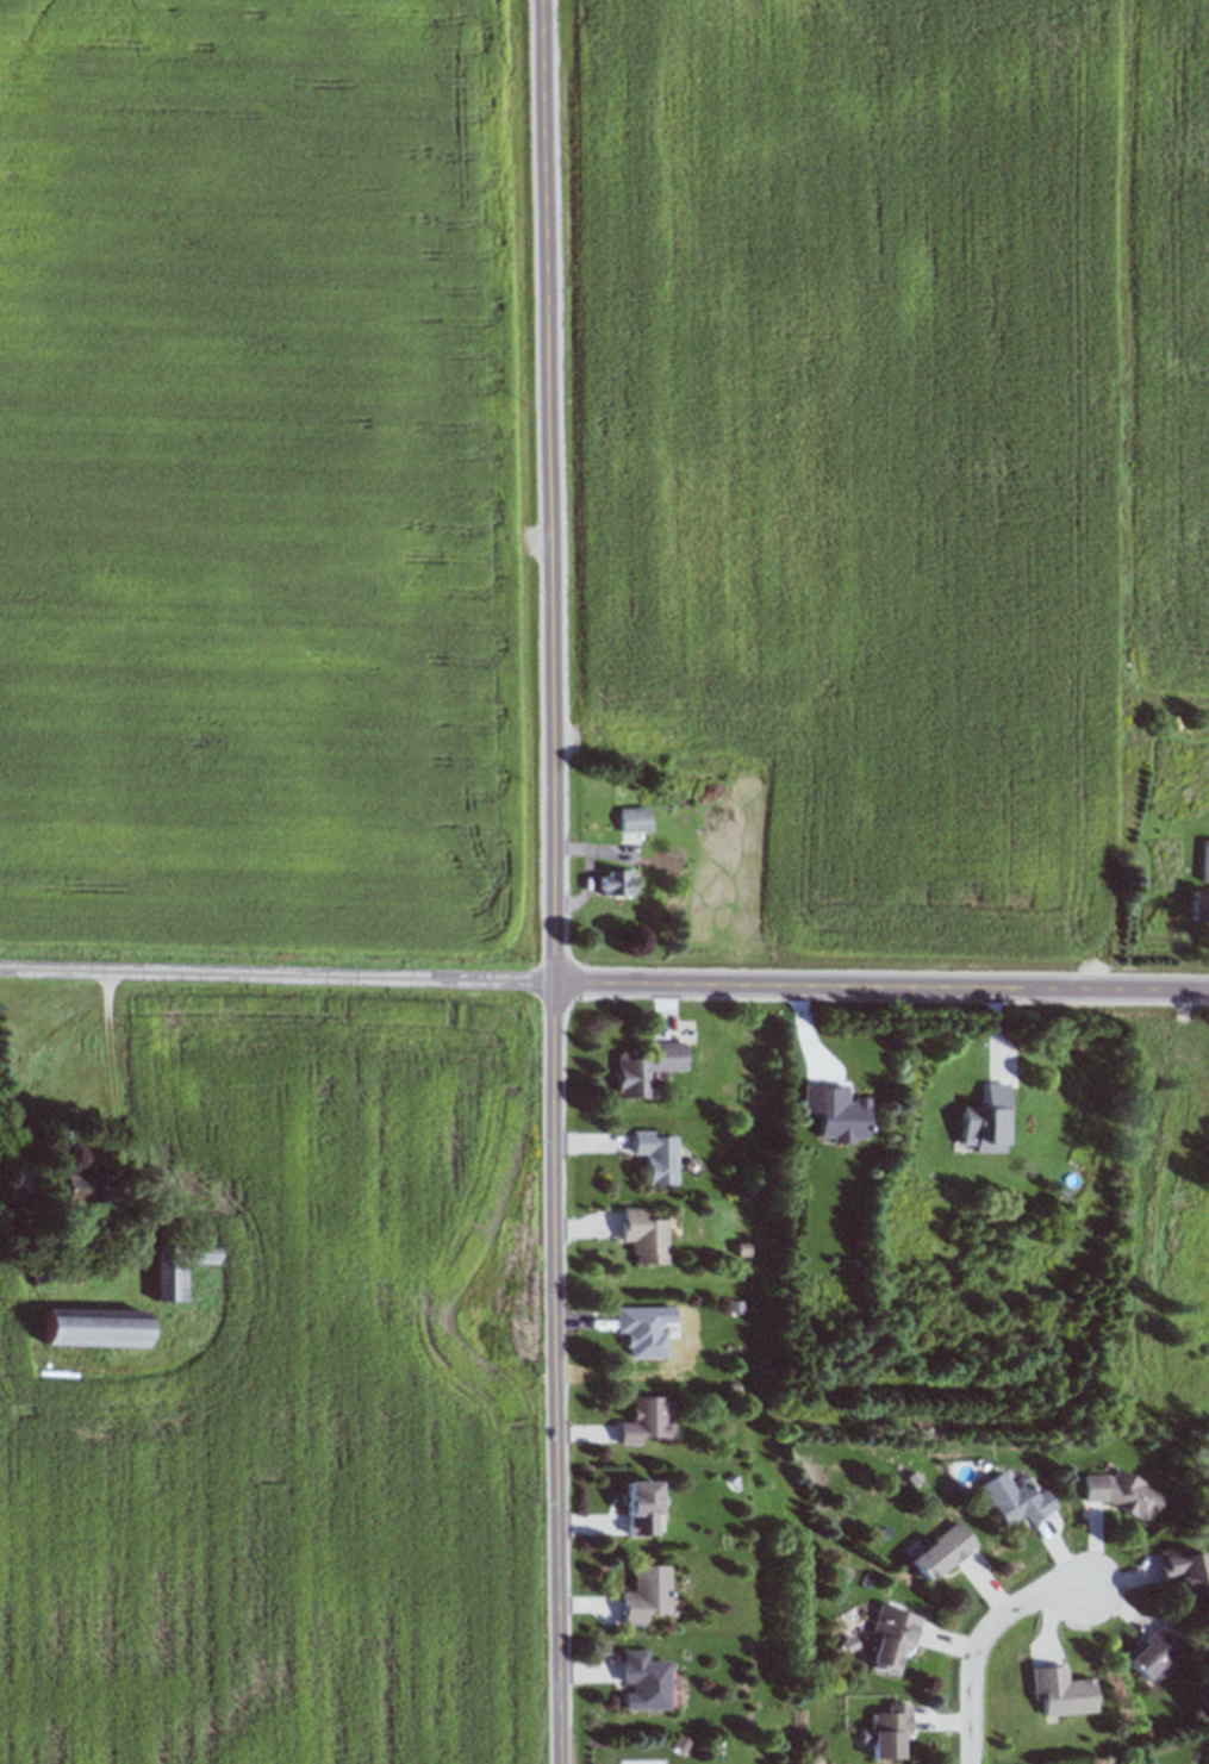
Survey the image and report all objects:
crop: (264, 480)
building: (635, 819)
road: (555, 881)
building: (616, 883)
building: (1201, 895)
road: (604, 981)
road: (113, 1061)
building: (648, 1070)
building: (803, 1111)
building: (986, 1121)
building: (659, 1155)
building: (87, 1192)
building: (646, 1236)
building: (179, 1267)
building: (94, 1327)
building: (641, 1330)
building: (647, 1420)
building: (1121, 1495)
building: (1015, 1501)
building: (641, 1508)
building: (942, 1552)
building: (1185, 1573)
building: (644, 1595)
road: (984, 1635)
building: (892, 1638)
building: (1154, 1654)
building: (643, 1683)
building: (1061, 1690)
building: (889, 1732)

